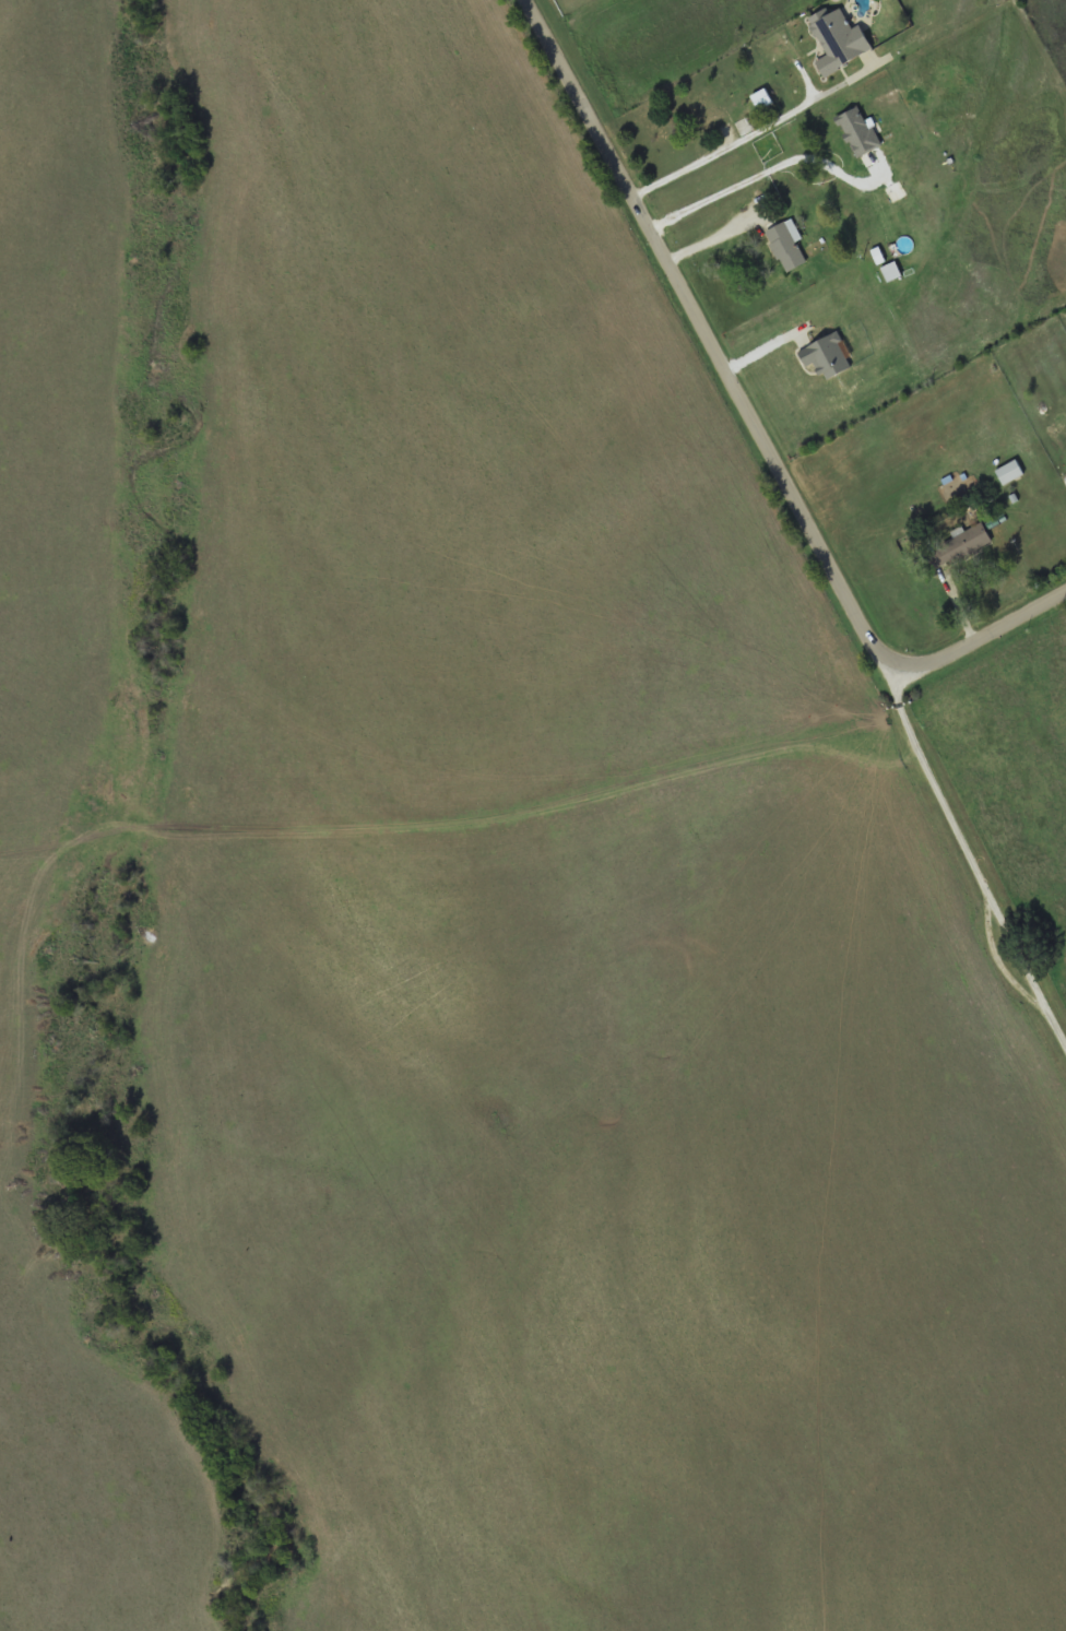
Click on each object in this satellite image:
building: (762, 97)
building: (708, 108)
building: (848, 122)
road: (723, 149)
road: (748, 180)
building: (784, 246)
road: (711, 342)
building: (1009, 471)
building: (960, 544)
road: (983, 637)
road: (974, 868)

